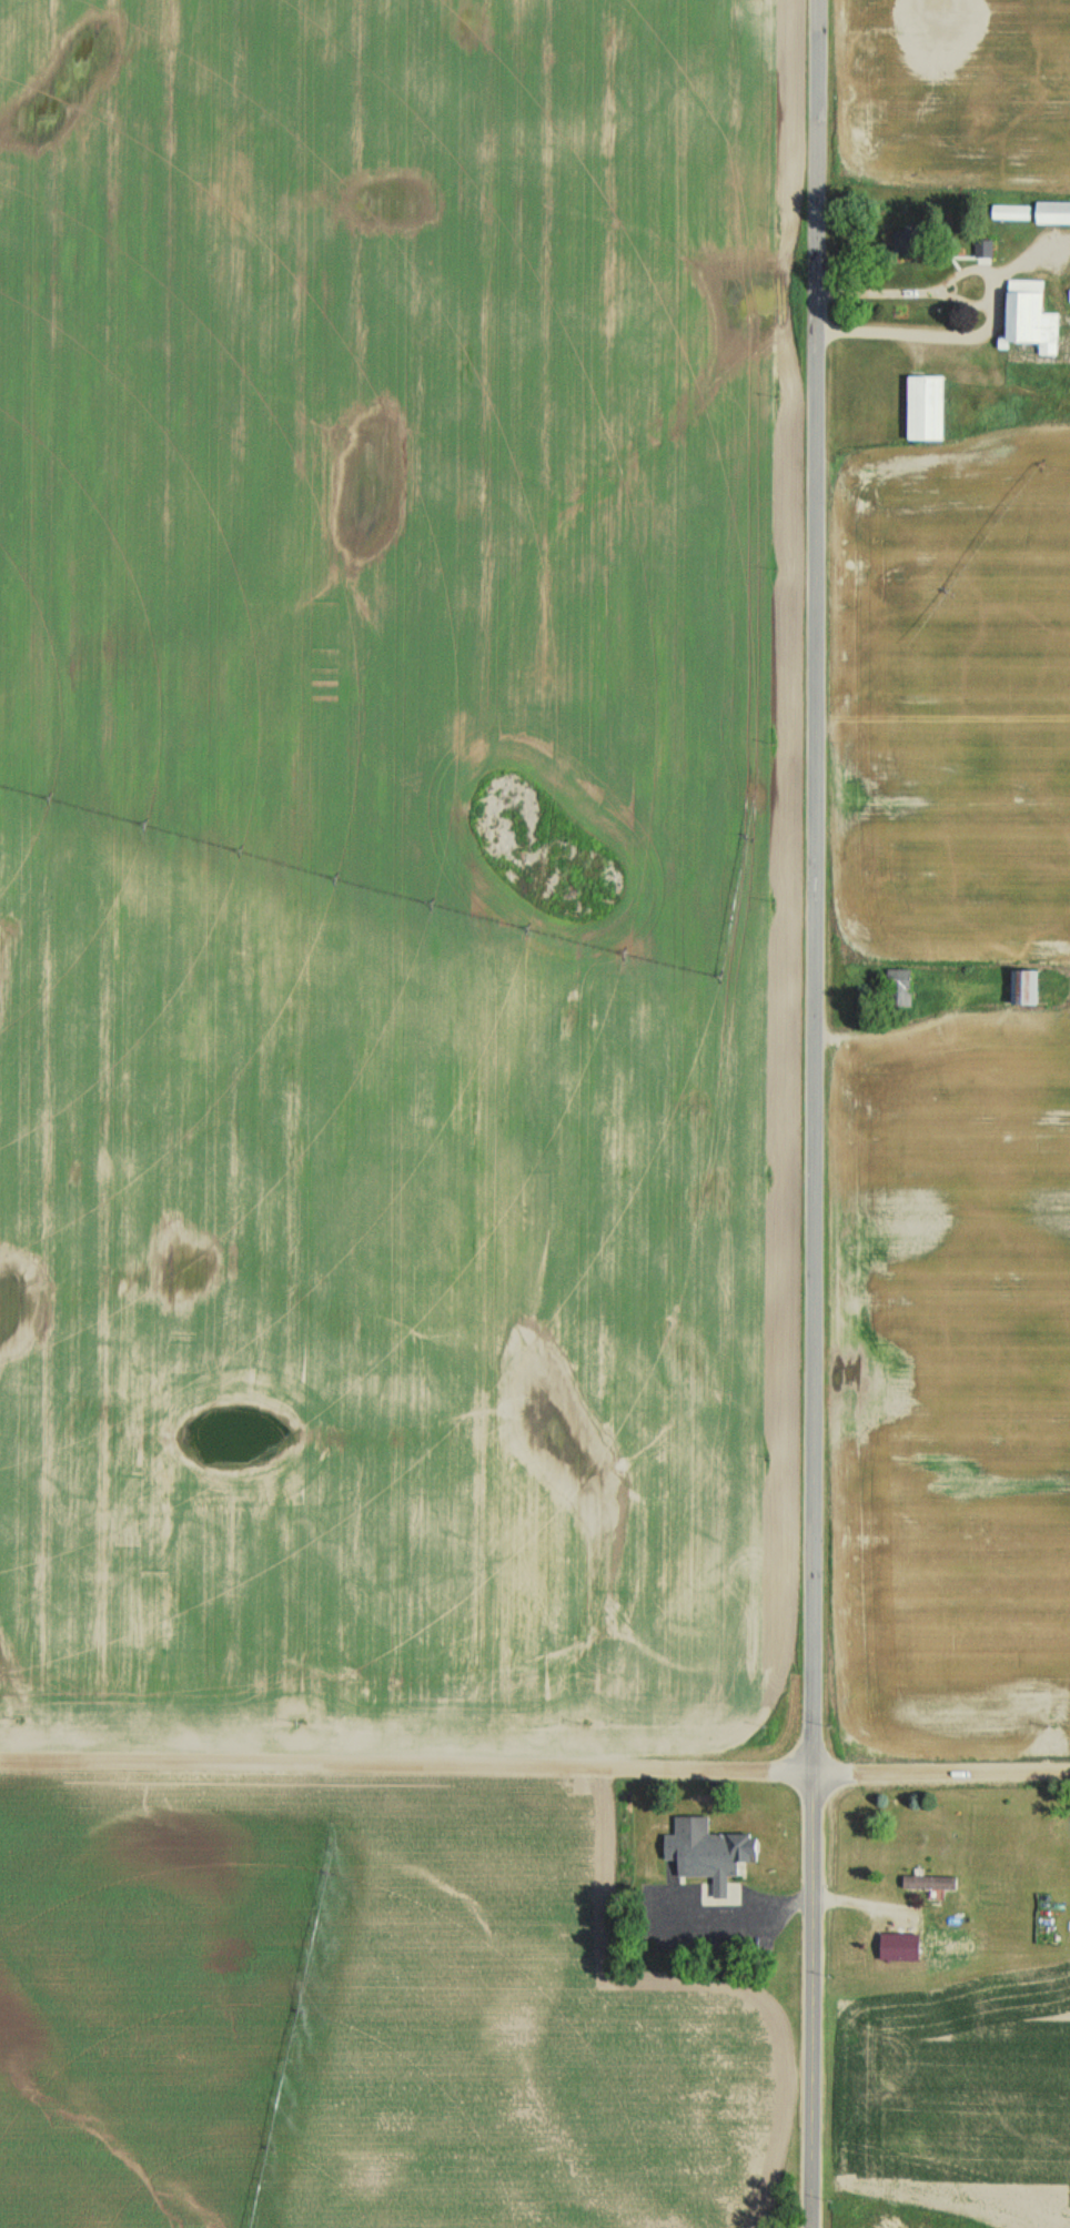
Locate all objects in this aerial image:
building: (1051, 213)
building: (982, 249)
road: (987, 315)
building: (1027, 315)
building: (922, 407)
building: (897, 988)
building: (1020, 988)
road: (812, 1113)
road: (534, 1770)
building: (706, 1853)
building: (928, 1883)
building: (897, 1947)

